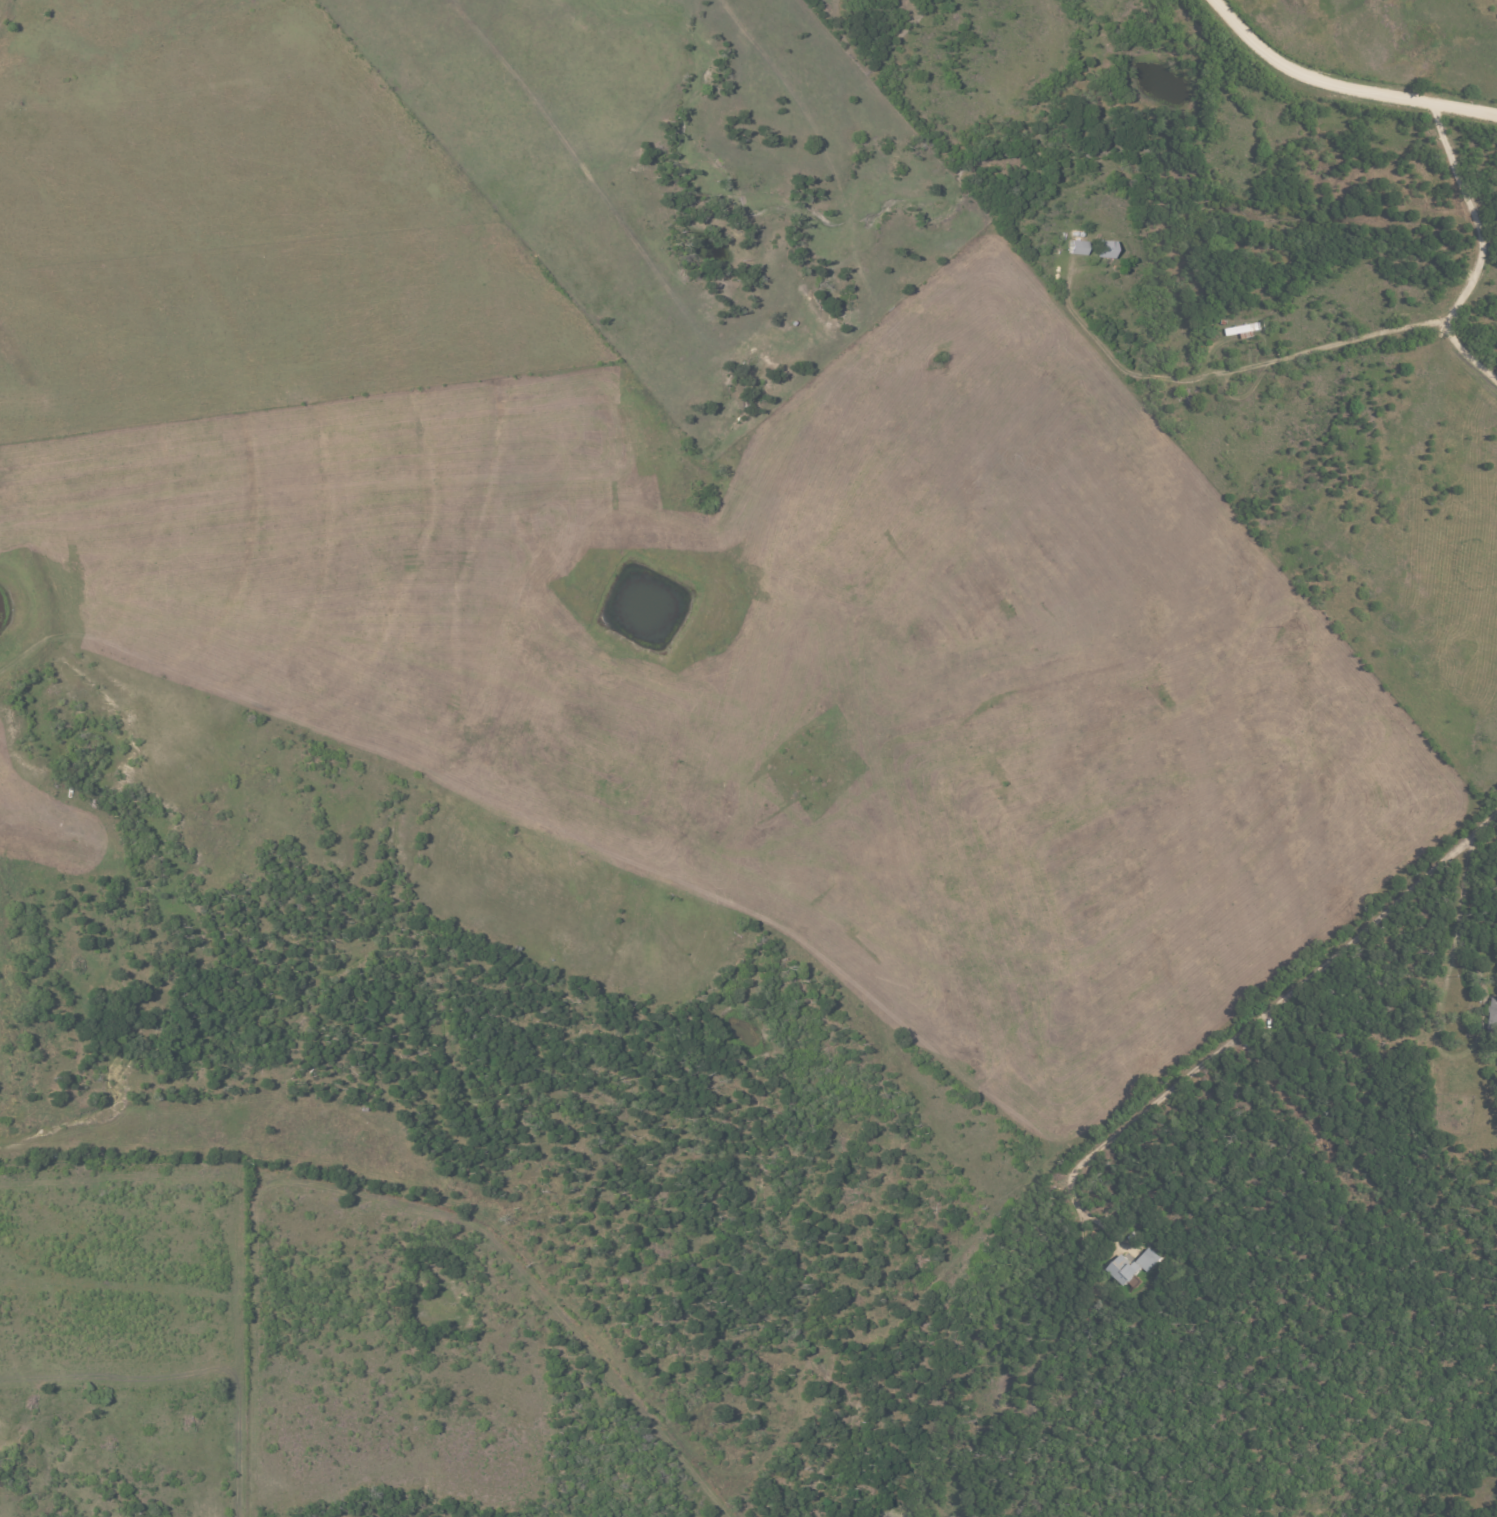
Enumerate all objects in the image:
road: (1342, 86)
road: (1476, 210)
building: (1107, 248)
road: (1468, 347)
road: (1236, 365)
building: (1494, 1014)
road: (1250, 1027)
building: (1133, 1268)

